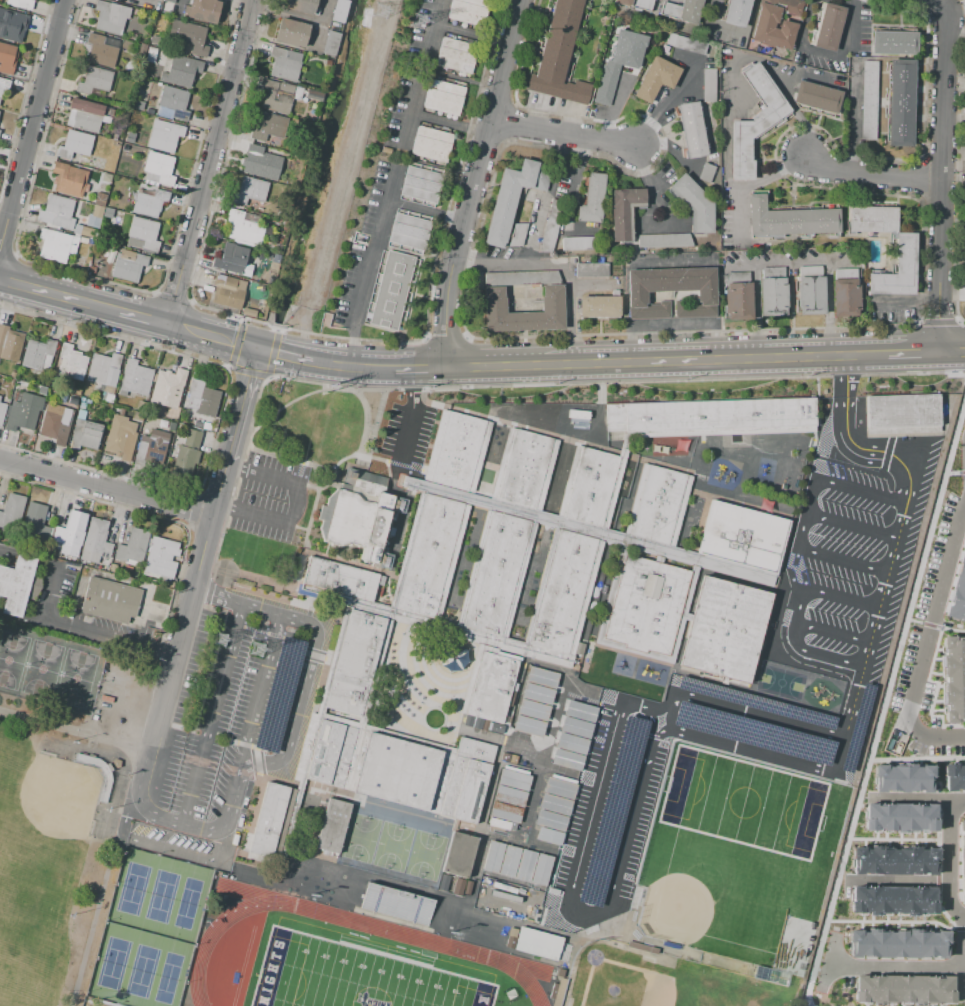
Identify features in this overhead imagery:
road: (929, 0)
road: (153, 1)
building: (168, 1)
road: (181, 1)
road: (934, 2)
building: (20, 4)
building: (635, 4)
building: (300, 5)
building: (791, 6)
building: (201, 10)
building: (340, 11)
power tower: (382, 11)
building: (468, 11)
building: (682, 11)
building: (736, 12)
road: (286, 15)
building: (110, 17)
power tower: (419, 21)
road: (320, 25)
building: (12, 26)
building: (827, 26)
building: (772, 28)
road: (729, 30)
road: (431, 31)
building: (290, 33)
road: (471, 33)
building: (189, 36)
building: (893, 42)
building: (331, 43)
building: (686, 44)
road: (842, 49)
building: (100, 52)
building: (559, 55)
building: (456, 56)
road: (734, 56)
building: (6, 57)
building: (619, 62)
building: (284, 64)
building: (181, 71)
building: (655, 78)
building: (94, 81)
building: (4, 85)
building: (708, 85)
building: (276, 97)
building: (444, 97)
building: (817, 97)
building: (869, 100)
building: (174, 102)
building: (900, 102)
building: (138, 105)
road: (669, 106)
road: (615, 107)
building: (86, 115)
road: (411, 115)
road: (449, 122)
building: (754, 122)
road: (853, 122)
road: (31, 125)
building: (269, 127)
building: (691, 129)
road: (562, 132)
building: (164, 136)
building: (431, 144)
building: (73, 145)
road: (669, 149)
building: (266, 159)
road: (210, 163)
building: (160, 168)
building: (707, 173)
road: (872, 175)
building: (68, 179)
road: (940, 179)
road: (647, 180)
road: (473, 182)
building: (420, 183)
road: (748, 184)
building: (250, 190)
road: (549, 194)
building: (512, 197)
building: (99, 199)
building: (592, 199)
building: (148, 203)
building: (694, 204)
road: (425, 210)
building: (97, 211)
building: (59, 212)
building: (623, 212)
road: (568, 216)
building: (116, 218)
building: (790, 219)
building: (872, 220)
building: (550, 225)
building: (245, 227)
building: (85, 231)
building: (408, 231)
building: (144, 234)
building: (517, 235)
building: (83, 240)
building: (664, 240)
building: (576, 244)
building: (54, 245)
road: (398, 250)
building: (232, 260)
road: (489, 261)
road: (792, 262)
road: (368, 265)
building: (128, 266)
building: (897, 270)
building: (592, 271)
building: (521, 278)
road: (591, 287)
building: (809, 289)
road: (41, 290)
building: (390, 290)
building: (772, 290)
building: (845, 291)
building: (230, 292)
road: (570, 293)
road: (411, 295)
building: (738, 295)
building: (637, 296)
road: (429, 297)
building: (551, 299)
road: (903, 304)
building: (599, 306)
road: (100, 308)
road: (828, 309)
road: (755, 310)
road: (143, 320)
road: (242, 320)
road: (260, 322)
road: (378, 327)
road: (277, 330)
road: (210, 339)
building: (10, 344)
road: (235, 344)
road: (950, 351)
building: (38, 353)
road: (272, 353)
road: (909, 353)
road: (282, 356)
road: (712, 359)
building: (69, 363)
road: (330, 365)
road: (492, 366)
road: (227, 367)
building: (104, 368)
road: (372, 368)
road: (420, 368)
road: (948, 368)
road: (248, 371)
building: (12, 374)
road: (267, 376)
building: (136, 378)
building: (167, 388)
road: (324, 389)
road: (854, 395)
road: (840, 396)
building: (62, 398)
building: (108, 398)
building: (201, 398)
road: (238, 407)
building: (2, 411)
building: (23, 412)
building: (708, 416)
building: (902, 416)
road: (375, 420)
track: (579, 421)
park: (315, 422)
road: (411, 422)
building: (55, 423)
road: (368, 428)
building: (84, 434)
road: (240, 435)
building: (121, 437)
building: (151, 447)
building: (185, 451)
building: (453, 451)
road: (883, 453)
building: (528, 471)
road: (962, 471)
road: (298, 473)
road: (951, 473)
road: (105, 488)
building: (588, 489)
road: (860, 491)
road: (907, 494)
road: (293, 504)
building: (656, 504)
building: (12, 511)
road: (804, 513)
building: (37, 521)
building: (355, 523)
road: (851, 525)
building: (69, 534)
building: (741, 536)
building: (96, 544)
building: (132, 546)
building: (160, 559)
building: (431, 559)
road: (843, 560)
building: (112, 568)
building: (499, 574)
road: (52, 582)
building: (341, 582)
building: (171, 584)
building: (16, 585)
building: (957, 589)
building: (564, 595)
road: (842, 597)
building: (110, 600)
building: (645, 607)
road: (877, 620)
road: (912, 620)
road: (930, 625)
building: (721, 632)
road: (833, 632)
power tower: (223, 635)
road: (109, 636)
road: (179, 638)
road: (928, 643)
road: (934, 647)
building: (579, 648)
road: (801, 648)
power tower: (255, 650)
park: (29, 665)
building: (542, 677)
building: (953, 678)
park: (779, 682)
road: (263, 687)
building: (493, 687)
building: (537, 693)
road: (83, 696)
road: (881, 698)
parking lot: (107, 701)
building: (533, 710)
building: (579, 710)
road: (750, 710)
road: (212, 713)
road: (662, 713)
road: (935, 716)
building: (468, 721)
building: (477, 723)
road: (295, 725)
building: (485, 725)
building: (528, 725)
building: (575, 726)
building: (855, 727)
building: (497, 728)
road: (76, 732)
building: (752, 733)
building: (384, 739)
building: (893, 742)
building: (571, 743)
road: (767, 752)
building: (505, 757)
building: (566, 758)
road: (915, 758)
building: (953, 775)
building: (900, 777)
building: (513, 780)
road: (617, 784)
building: (559, 788)
road: (595, 789)
building: (508, 796)
road: (907, 796)
road: (956, 797)
park: (742, 802)
park: (60, 804)
building: (555, 804)
road: (951, 809)
building: (611, 811)
building: (504, 812)
building: (899, 816)
road: (125, 818)
building: (551, 820)
park: (45, 822)
building: (274, 822)
building: (332, 824)
building: (501, 824)
road: (626, 831)
building: (550, 836)
park: (361, 838)
road: (891, 839)
road: (938, 840)
park: (393, 847)
building: (457, 854)
road: (189, 855)
park: (425, 855)
building: (492, 856)
building: (960, 857)
building: (893, 858)
park: (43, 860)
building: (508, 860)
building: (524, 865)
building: (540, 869)
road: (888, 878)
park: (720, 880)
road: (938, 882)
building: (444, 883)
road: (947, 885)
building: (457, 887)
building: (466, 888)
track: (255, 894)
building: (893, 900)
building: (396, 904)
road: (941, 911)
road: (889, 921)
road: (98, 925)
road: (959, 929)
park: (149, 931)
building: (512, 932)
building: (590, 932)
building: (900, 943)
building: (537, 944)
building: (792, 945)
building: (567, 947)
park: (28, 952)
stadium: (345, 960)
road: (831, 962)
road: (898, 964)
track: (342, 965)
track: (242, 966)
track: (523, 967)
park: (360, 973)
park: (353, 977)
park: (662, 980)
building: (903, 990)
building: (560, 991)

